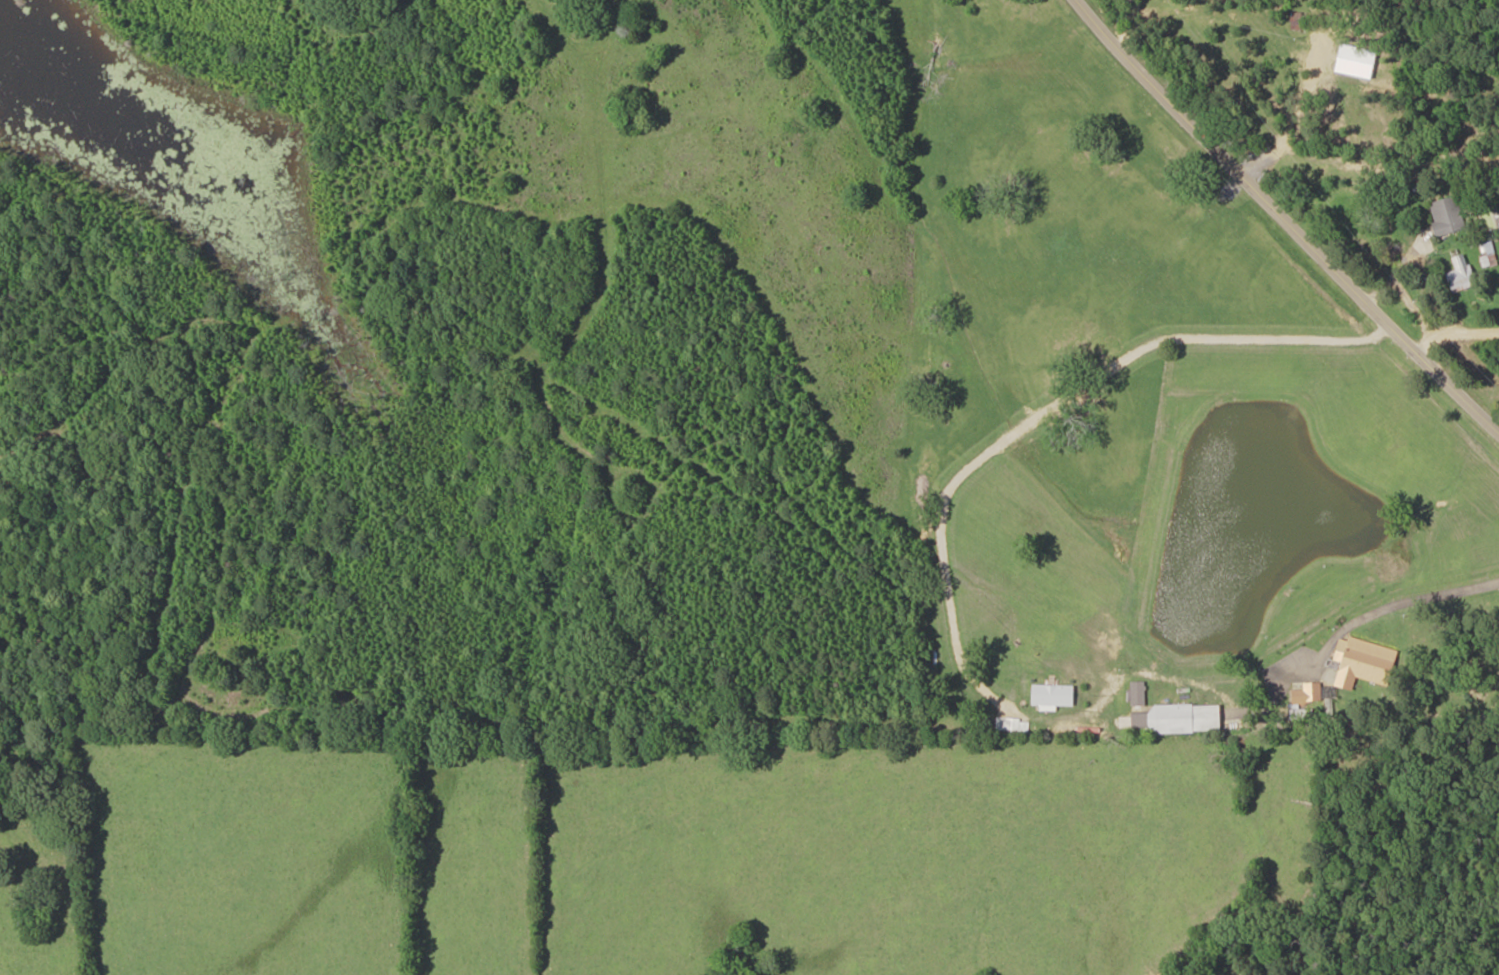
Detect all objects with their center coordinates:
road: (1295, 216)
building: (1447, 216)
building: (1489, 256)
building: (1460, 275)
road: (1219, 566)
building: (1363, 662)
building: (1308, 694)
building: (1174, 714)

